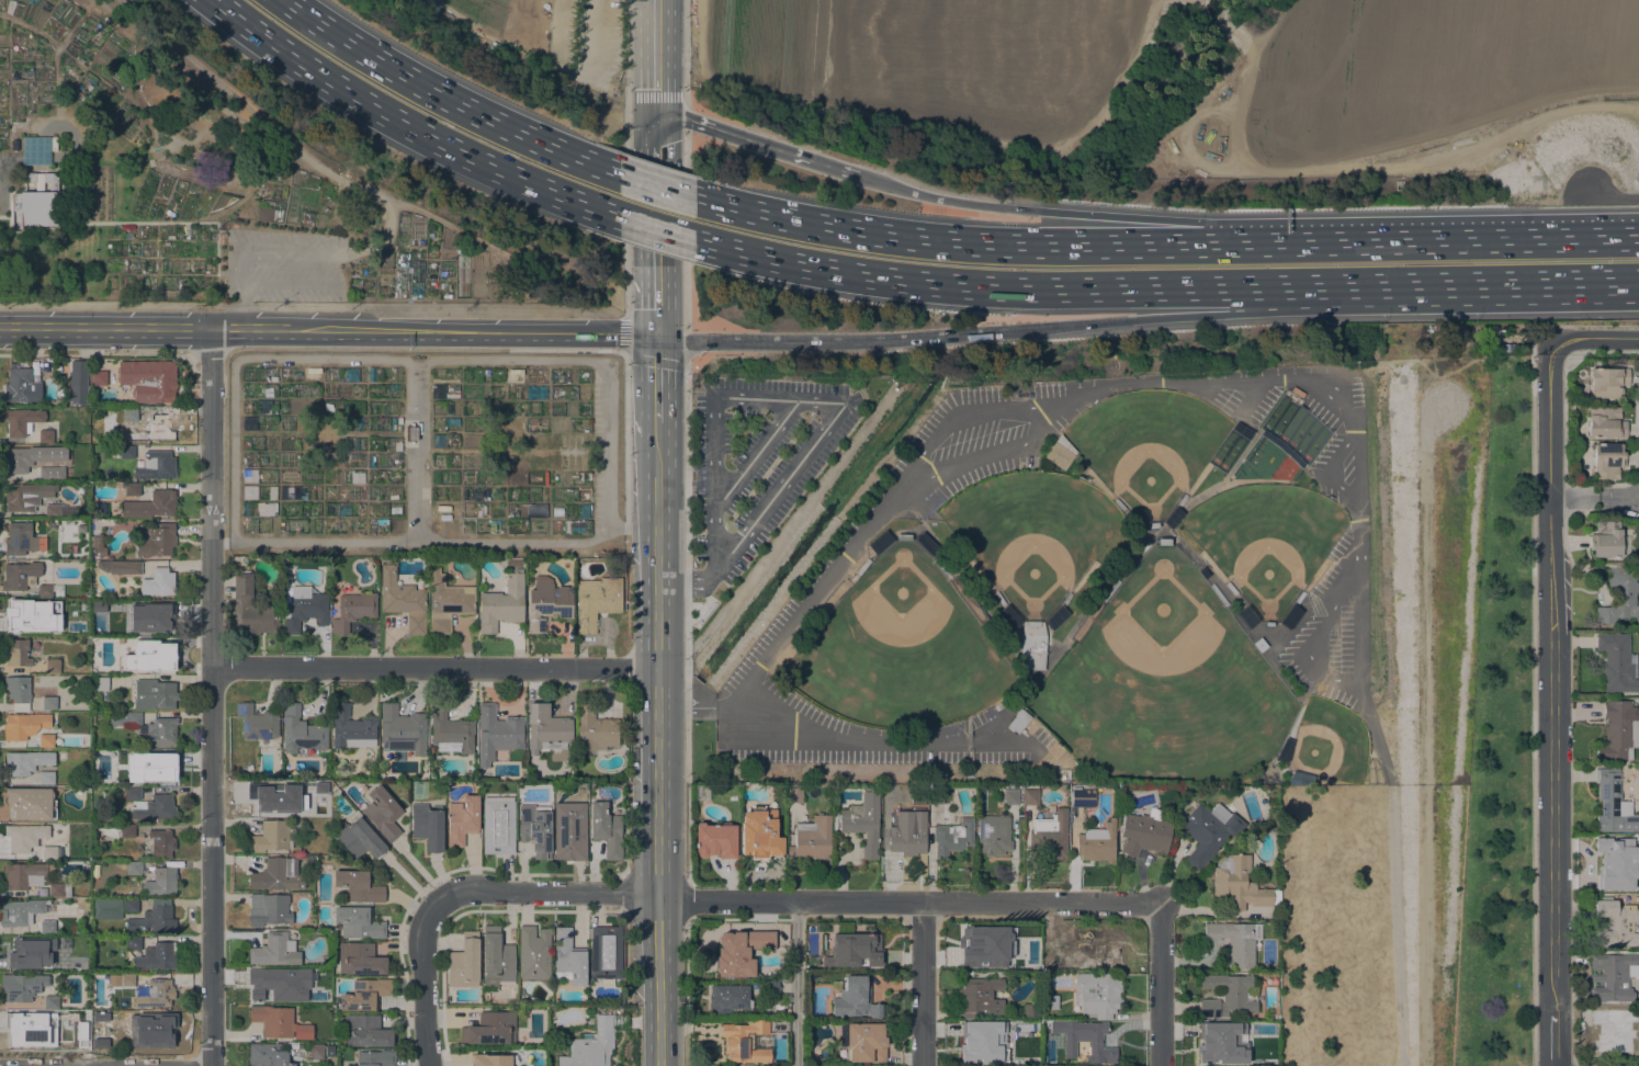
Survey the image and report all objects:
road: (685, 52)
crop: (938, 55)
park: (988, 57)
road: (657, 58)
crop: (1402, 75)
road: (655, 95)
road: (443, 99)
road: (685, 116)
traffic signals: (658, 117)
road: (407, 124)
road: (276, 132)
road: (743, 137)
building: (14, 145)
building: (34, 150)
road: (625, 156)
dam: (1574, 163)
road: (841, 170)
road: (888, 184)
road: (655, 185)
dam: (1608, 196)
road: (1608, 196)
building: (36, 202)
building: (260, 203)
road: (1133, 216)
road: (658, 227)
road: (656, 228)
road: (685, 229)
road: (1492, 240)
road: (1016, 246)
parking lot: (285, 265)
road: (1533, 282)
road: (1058, 285)
road: (312, 307)
road: (1212, 315)
road: (329, 330)
road: (624, 332)
traffic signals: (658, 337)
road: (1595, 337)
road: (827, 341)
road: (686, 347)
building: (1501, 347)
road: (417, 348)
road: (240, 358)
road: (655, 359)
building: (23, 362)
road: (657, 364)
building: (98, 377)
building: (148, 379)
building: (77, 382)
building: (1607, 382)
building: (21, 386)
road: (1088, 398)
road: (798, 401)
road: (657, 406)
building: (129, 415)
park: (1126, 419)
building: (21, 420)
building: (1605, 422)
road: (657, 428)
building: (152, 430)
building: (45, 435)
building: (500, 440)
park: (1149, 444)
road: (417, 449)
building: (328, 451)
building: (126, 452)
building: (1060, 452)
parking lot: (600, 453)
road: (755, 455)
building: (20, 458)
parking lot: (758, 460)
building: (1607, 460)
building: (156, 465)
building: (52, 474)
building: (129, 488)
building: (25, 496)
road: (1593, 497)
building: (1182, 500)
building: (150, 504)
building: (1119, 504)
road: (799, 510)
building: (52, 511)
building: (1173, 517)
building: (1130, 520)
building: (1152, 525)
park: (1037, 532)
building: (20, 537)
building: (903, 537)
park: (1266, 540)
building: (1605, 540)
building: (157, 541)
road: (221, 542)
building: (1163, 542)
building: (879, 543)
building: (925, 544)
building: (71, 545)
building: (97, 545)
road: (656, 553)
building: (940, 566)
building: (120, 567)
building: (862, 567)
building: (1123, 571)
building: (1203, 572)
building: (20, 576)
road: (691, 580)
building: (158, 582)
building: (1230, 588)
building: (49, 590)
building: (1110, 590)
building: (1218, 594)
building: (1620, 596)
building: (999, 598)
building: (1299, 598)
building: (1066, 599)
building: (403, 600)
building: (447, 601)
building: (596, 601)
building: (502, 603)
building: (547, 603)
building: (303, 608)
building: (251, 609)
building: (353, 610)
building: (23, 613)
building: (1009, 616)
building: (1247, 616)
building: (1290, 616)
building: (1056, 617)
building: (148, 619)
building: (1268, 623)
building: (47, 628)
road: (686, 632)
road: (1348, 644)
building: (1259, 645)
building: (1032, 646)
road: (1308, 648)
park: (901, 649)
building: (18, 653)
building: (148, 657)
building: (1616, 662)
dam: (1434, 665)
building: (52, 666)
road: (432, 668)
road: (1549, 678)
building: (100, 683)
park: (1163, 684)
building: (18, 692)
building: (154, 694)
road: (210, 698)
building: (48, 703)
road: (656, 705)
building: (1018, 721)
building: (258, 724)
building: (23, 725)
building: (148, 728)
building: (351, 728)
building: (546, 729)
building: (594, 729)
building: (1619, 729)
building: (301, 732)
building: (402, 732)
road: (1376, 732)
road: (1425, 732)
building: (450, 733)
building: (497, 733)
road: (823, 735)
building: (45, 739)
park: (1331, 741)
park: (1499, 748)
building: (1284, 750)
park: (1426, 750)
building: (128, 756)
building: (31, 764)
building: (157, 769)
building: (1300, 779)
building: (133, 793)
building: (794, 793)
building: (935, 796)
building: (1030, 796)
building: (917, 797)
building: (1009, 797)
building: (1083, 798)
building: (270, 801)
building: (30, 804)
building: (1612, 804)
building: (154, 807)
building: (382, 813)
building: (462, 819)
building: (835, 820)
building: (863, 820)
building: (427, 825)
building: (498, 826)
building: (534, 829)
building: (606, 829)
building: (127, 830)
building: (569, 831)
building: (1208, 831)
building: (760, 833)
building: (993, 835)
building: (1144, 835)
building: (1050, 836)
building: (24, 837)
building: (271, 837)
building: (812, 838)
building: (952, 838)
building: (358, 839)
building: (907, 839)
building: (715, 840)
building: (161, 843)
building: (1097, 843)
building: (48, 852)
building: (309, 860)
building: (133, 867)
building: (1618, 869)
building: (276, 875)
building: (33, 878)
building: (162, 881)
building: (1240, 884)
building: (358, 886)
road: (542, 892)
road: (907, 901)
road: (656, 904)
building: (131, 905)
building: (105, 908)
building: (269, 909)
building: (20, 911)
building: (152, 920)
building: (358, 922)
road: (1397, 925)
building: (1615, 925)
building: (47, 927)
building: (832, 938)
building: (1235, 941)
building: (133, 942)
building: (1097, 946)
building: (985, 948)
building: (24, 949)
building: (274, 950)
building: (863, 950)
building: (606, 952)
building: (741, 953)
building: (533, 954)
building: (157, 956)
building: (568, 957)
building: (359, 959)
building: (496, 960)
building: (464, 962)
building: (1030, 963)
building: (55, 965)
building: (112, 976)
building: (1615, 976)
building: (126, 979)
road: (423, 984)
road: (795, 984)
road: (922, 984)
road: (1161, 984)
building: (275, 985)
building: (21, 987)
building: (770, 987)
building: (155, 994)
building: (1098, 994)
building: (364, 995)
building: (1228, 995)
building: (982, 996)
building: (727, 999)
building: (855, 999)
building: (50, 1001)
building: (1050, 1002)
building: (1030, 1010)
building: (279, 1022)
building: (1259, 1027)
building: (27, 1029)
building: (489, 1029)
building: (149, 1030)
building: (365, 1031)
building: (1614, 1032)
building: (982, 1039)
road: (1551, 1039)
building: (1085, 1040)
building: (745, 1041)
building: (862, 1041)
building: (1219, 1045)
building: (591, 1046)
building: (316, 1052)
building: (267, 1055)
building: (375, 1058)
building: (1030, 1058)
building: (489, 1059)
building: (347, 1065)

